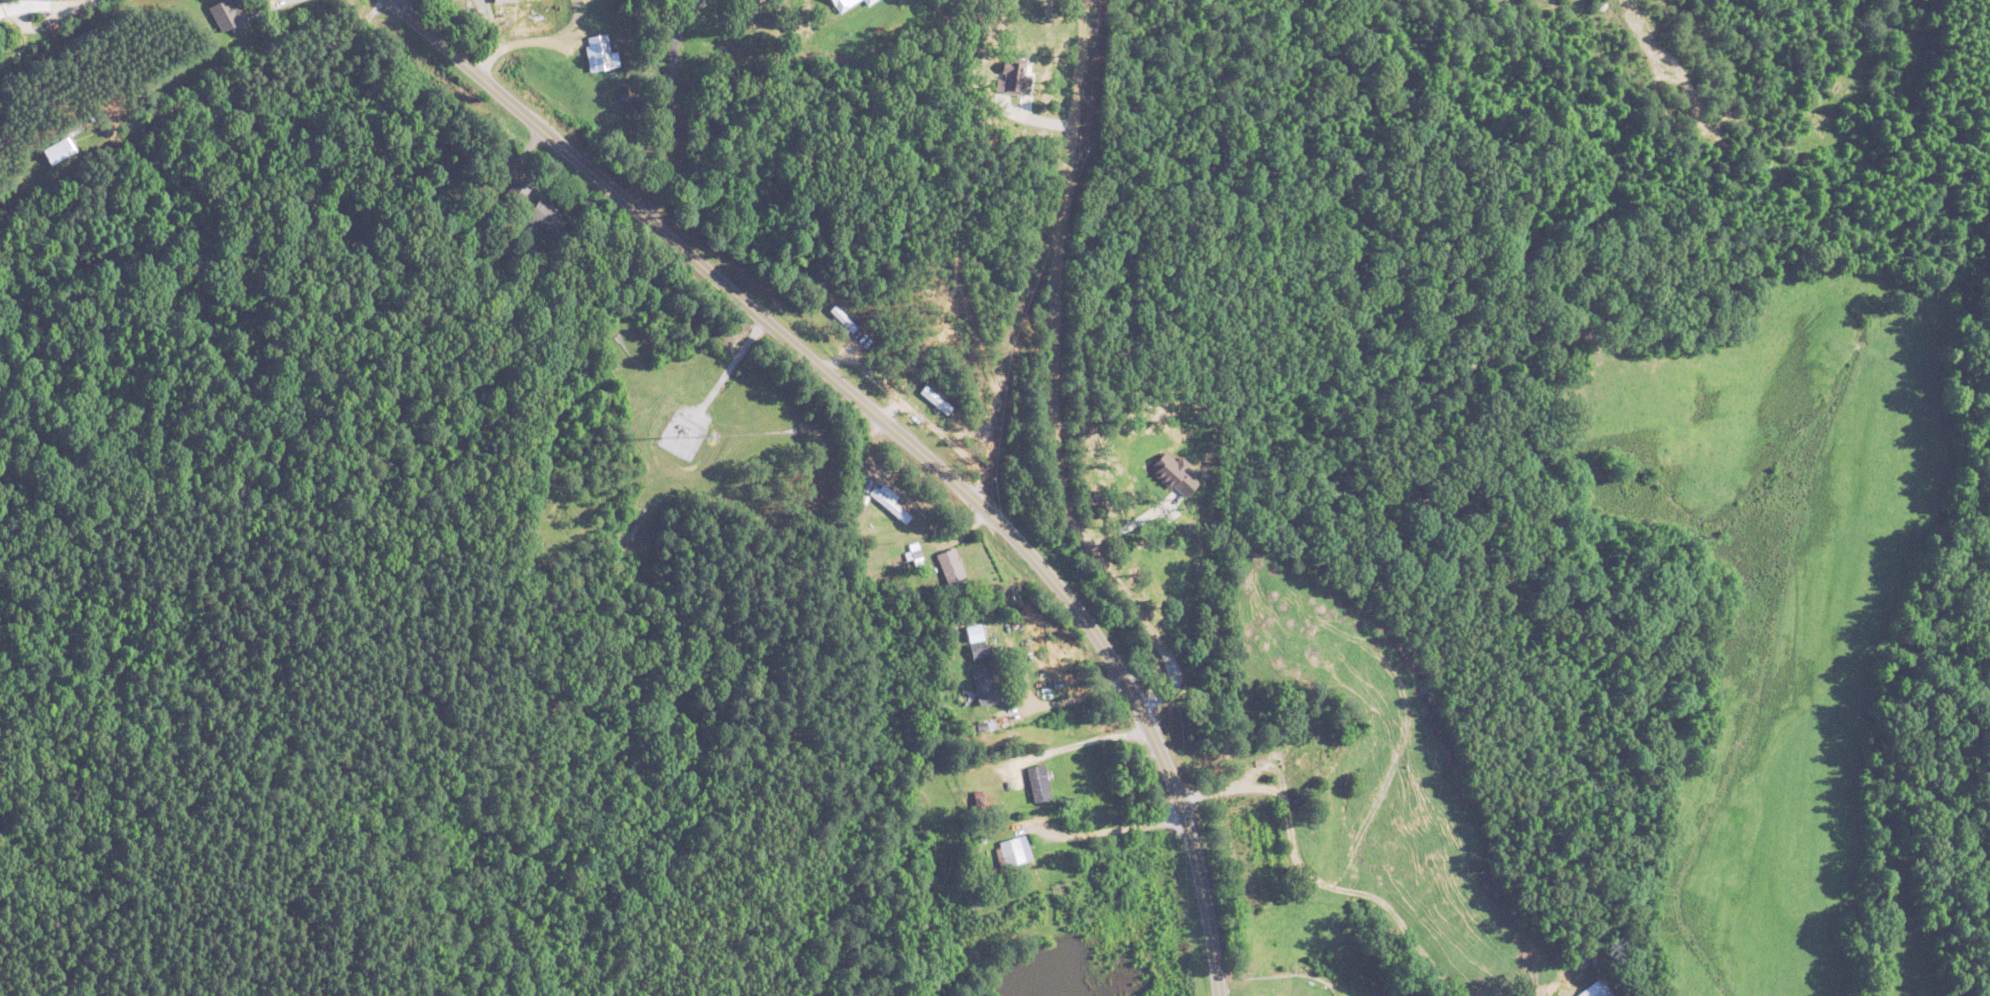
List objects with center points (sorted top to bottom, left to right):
building: (868, 1)
road: (47, 3)
building: (842, 4)
road: (270, 8)
building: (529, 10)
building: (227, 15)
building: (598, 47)
road: (253, 99)
road: (671, 103)
building: (518, 188)
building: (547, 216)
road: (731, 368)
road: (1054, 377)
road: (898, 432)
building: (889, 504)
building: (951, 566)
building: (978, 649)
building: (984, 686)
road: (1074, 746)
building: (1307, 759)
building: (1039, 782)
building: (1103, 813)
road: (1101, 832)
building: (1015, 850)
building: (1597, 989)

